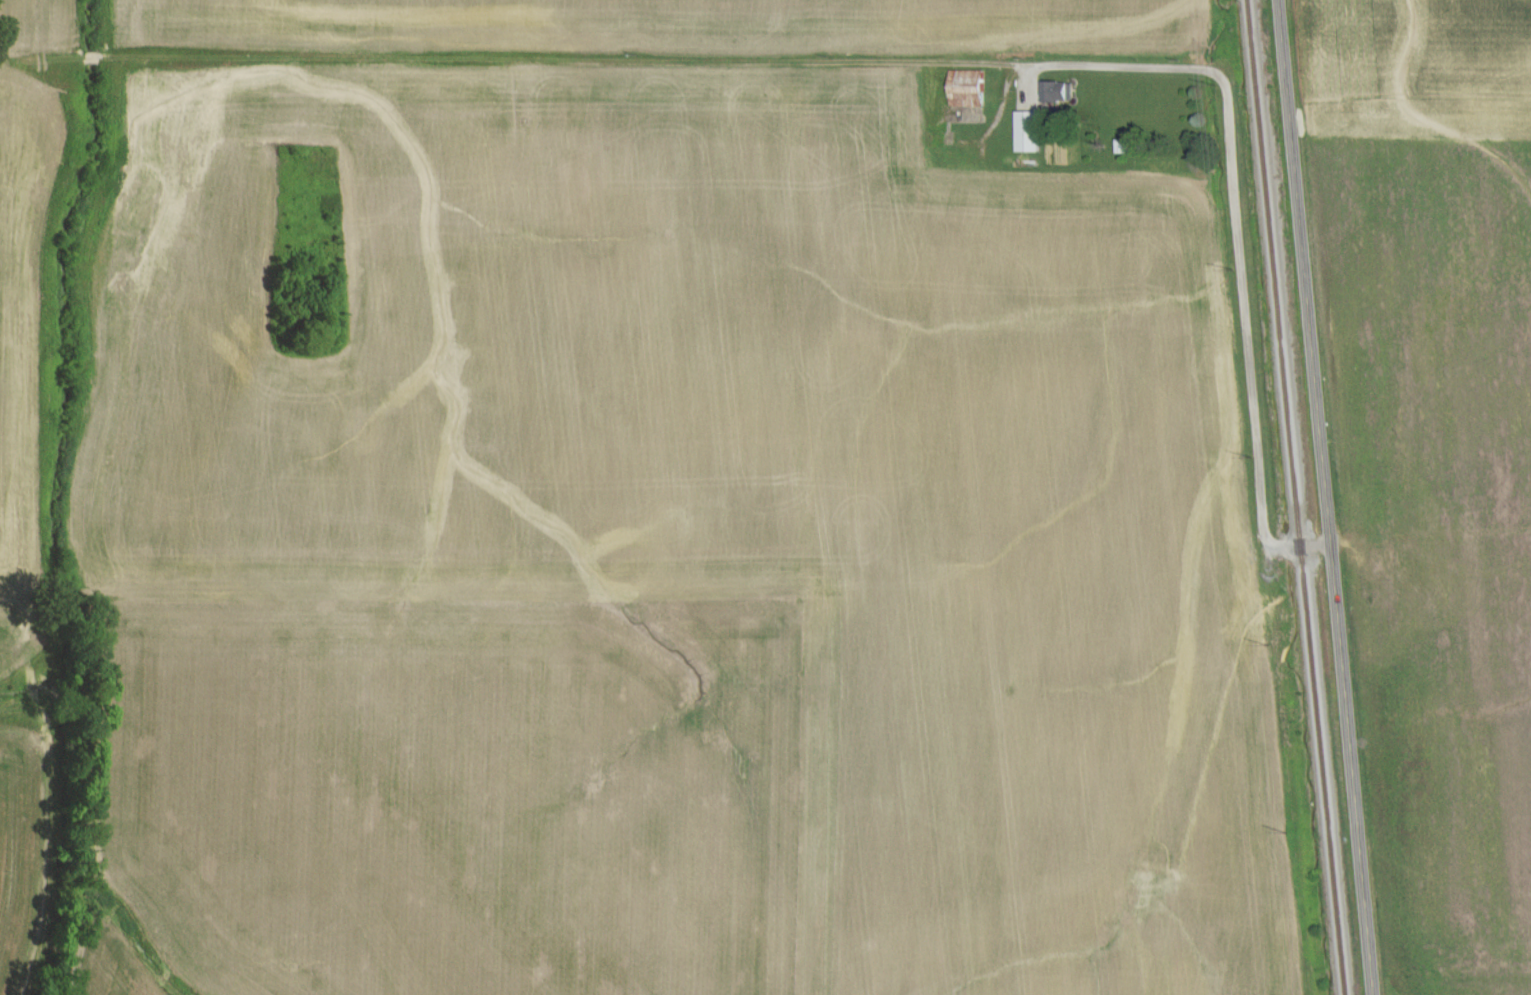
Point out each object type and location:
building: (963, 89)
building: (1054, 92)
building: (1025, 133)
road: (1236, 167)
railway: (1295, 497)
road: (1331, 497)

